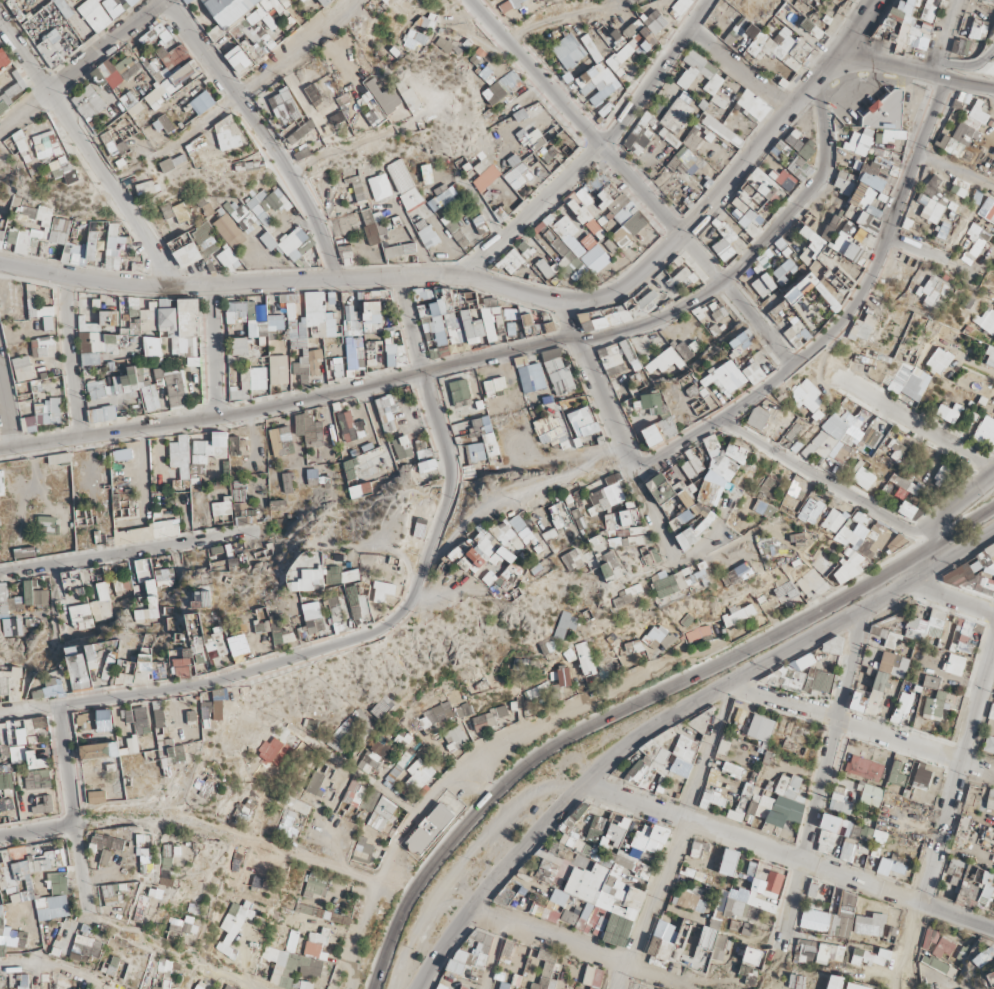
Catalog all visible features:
road: (106, 48)
road: (969, 63)
road: (503, 284)
road: (946, 513)
road: (641, 703)
road: (671, 717)

